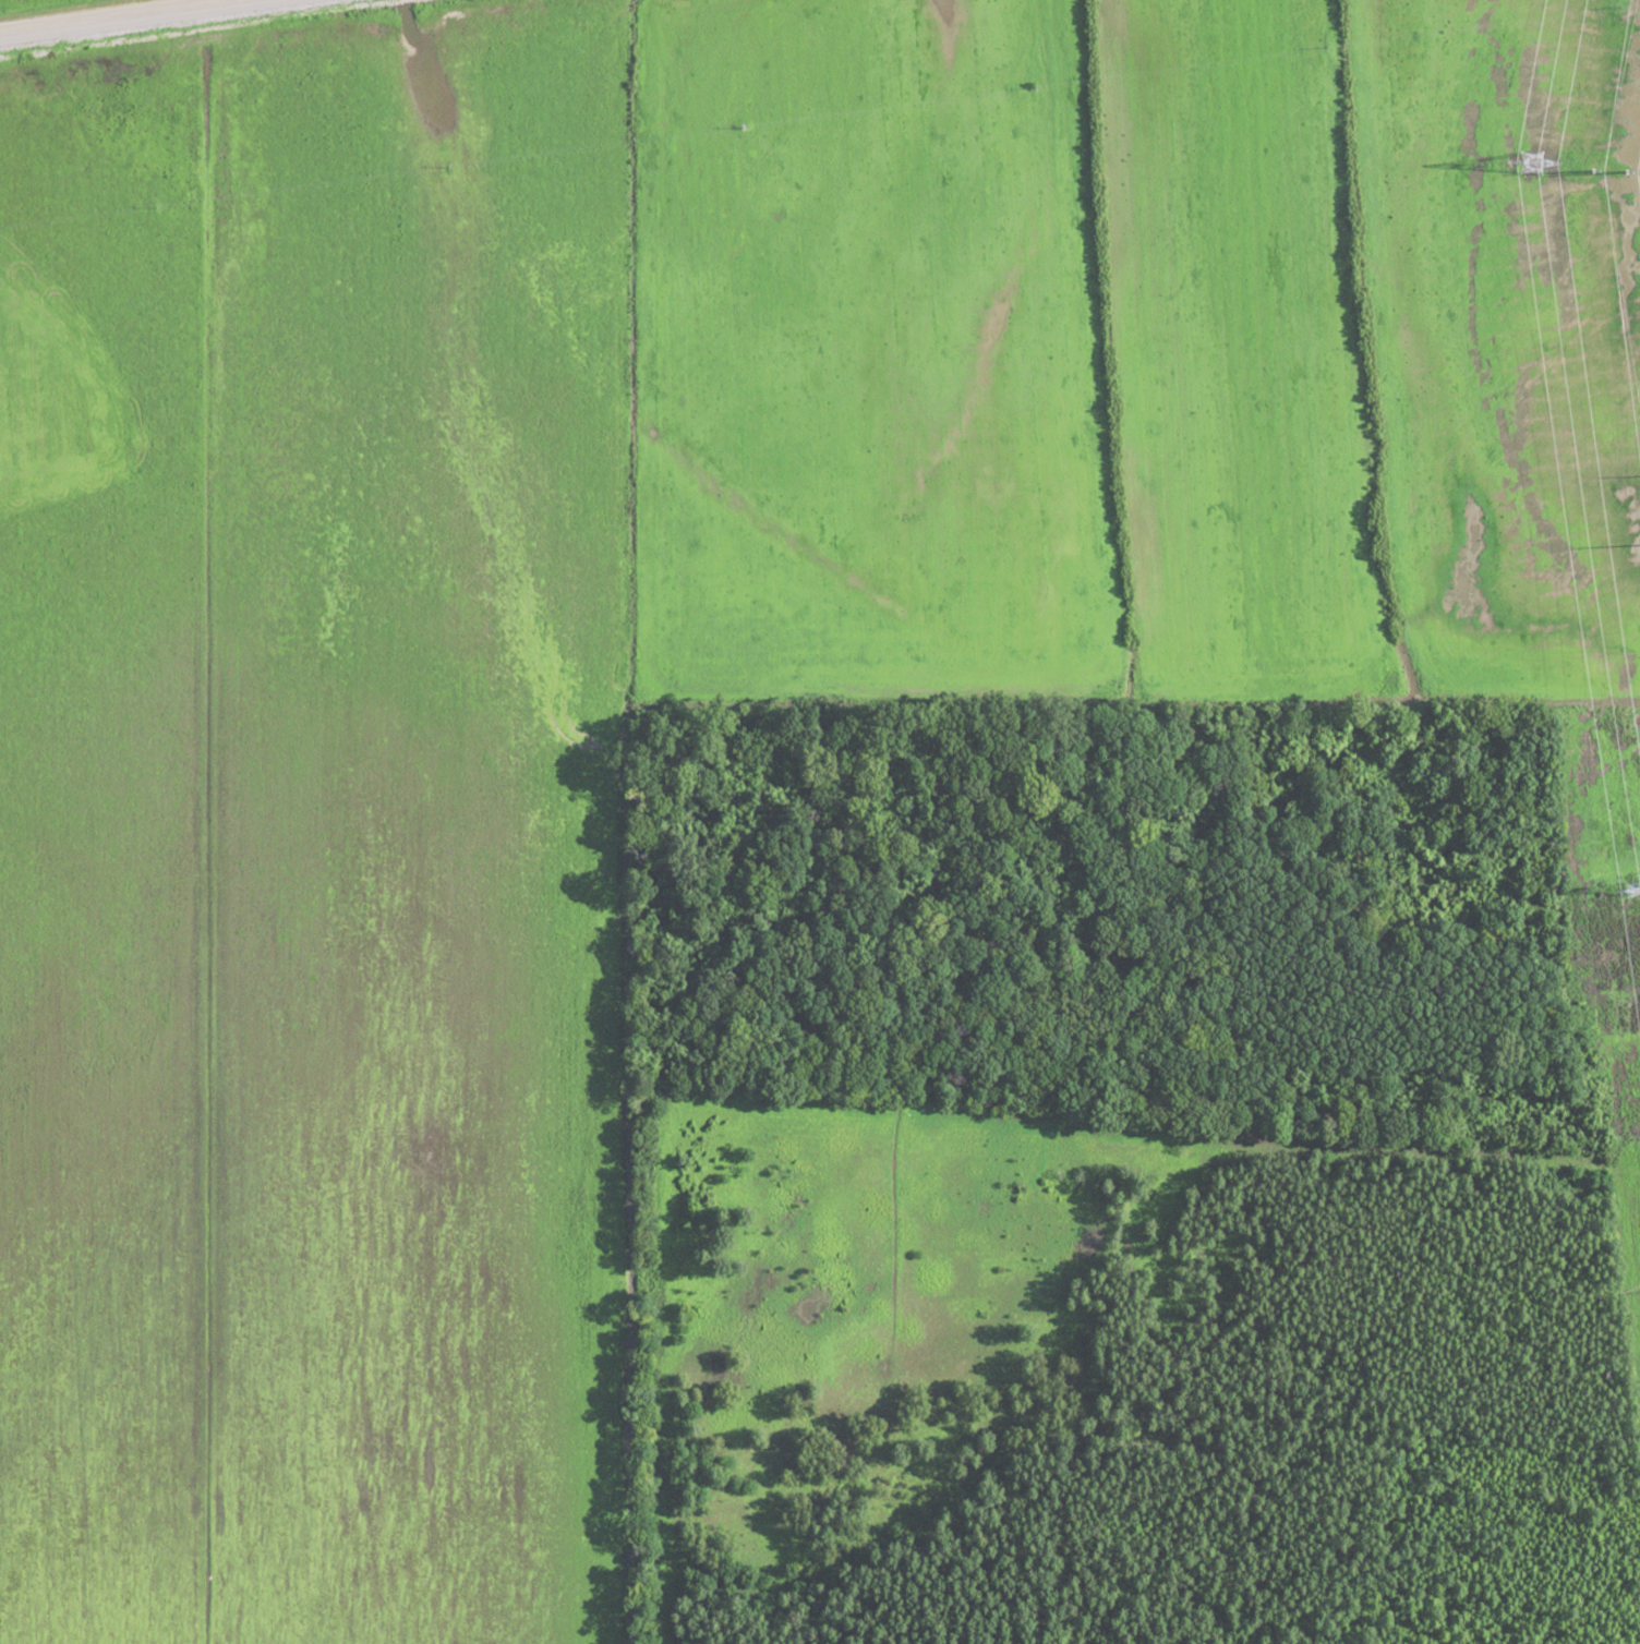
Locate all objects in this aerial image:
road: (79, 10)
power tower: (1530, 162)
power tower: (1603, 165)
power tower: (1638, 881)

